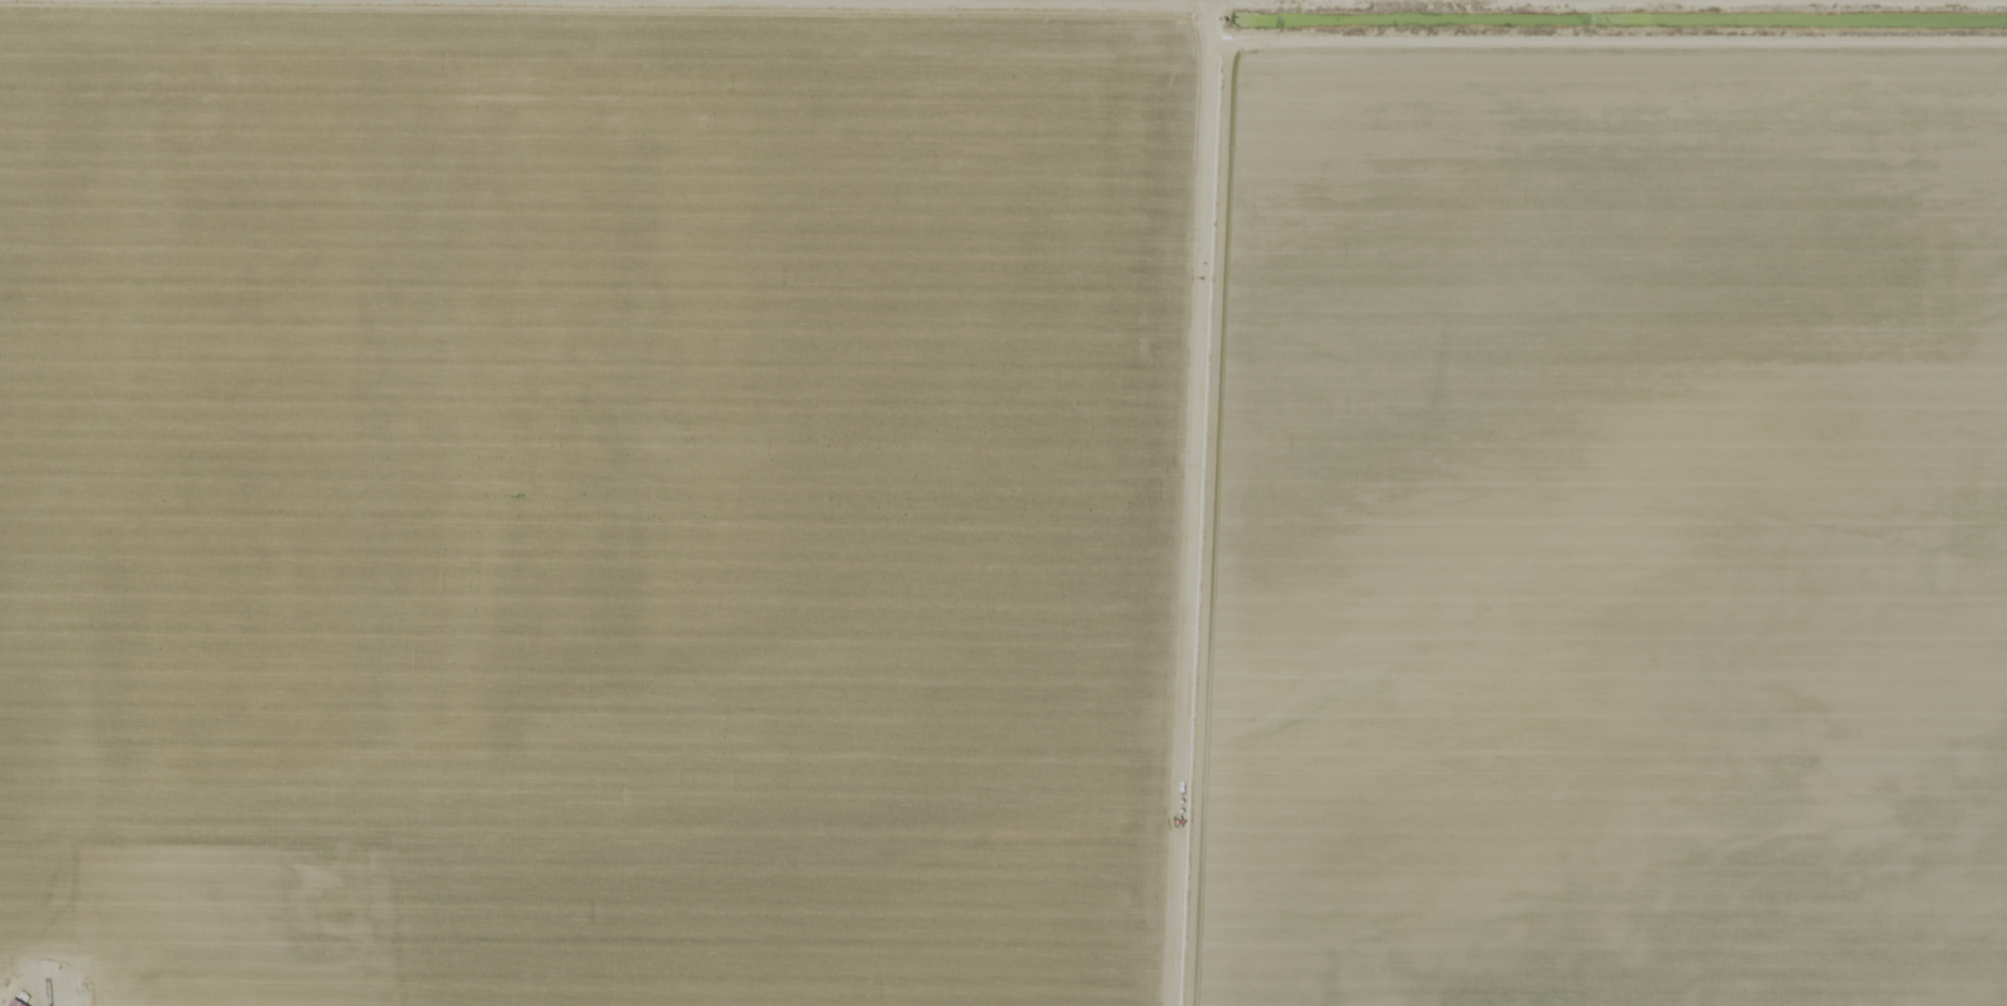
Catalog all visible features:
crop: (627, 468)
crop: (3, 960)

